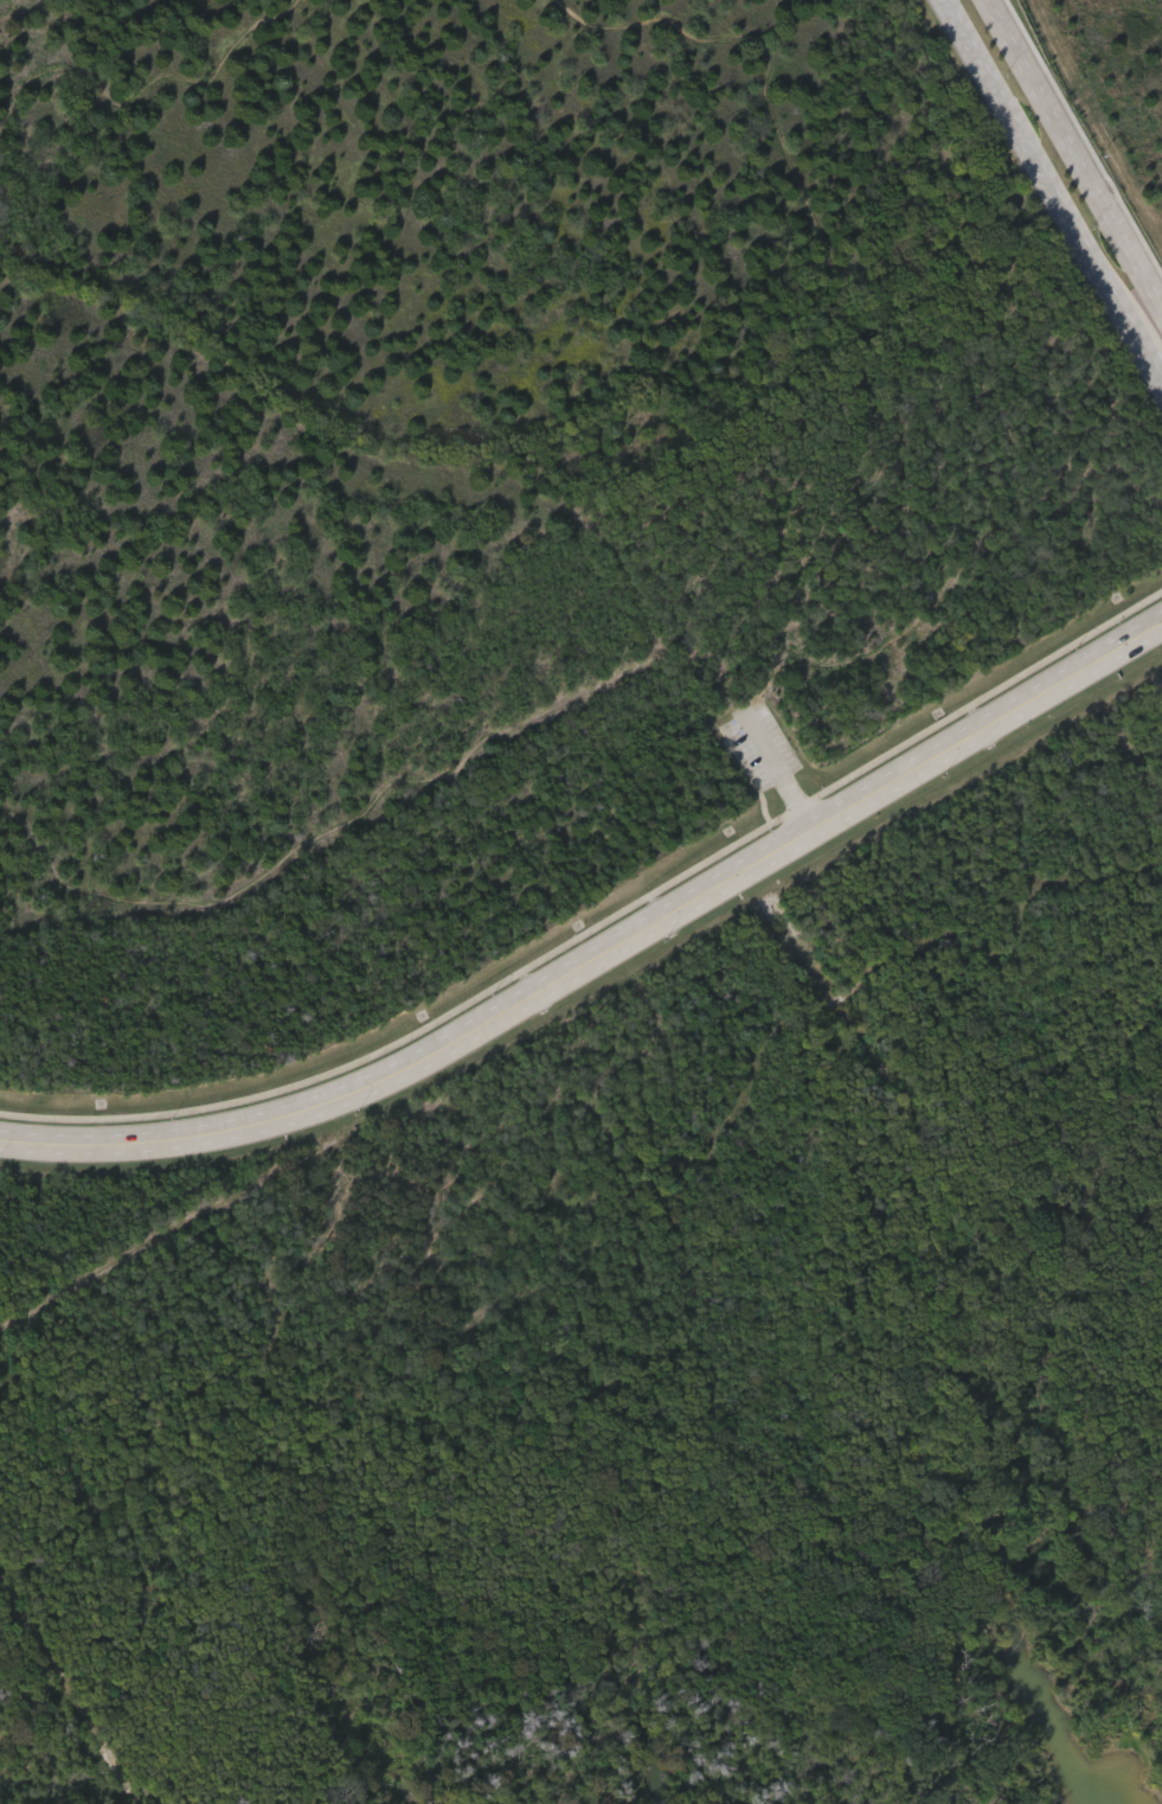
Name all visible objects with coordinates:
road: (1073, 153)
road: (1051, 173)
road: (1156, 357)
road: (781, 770)
park: (580, 902)
road: (603, 953)

